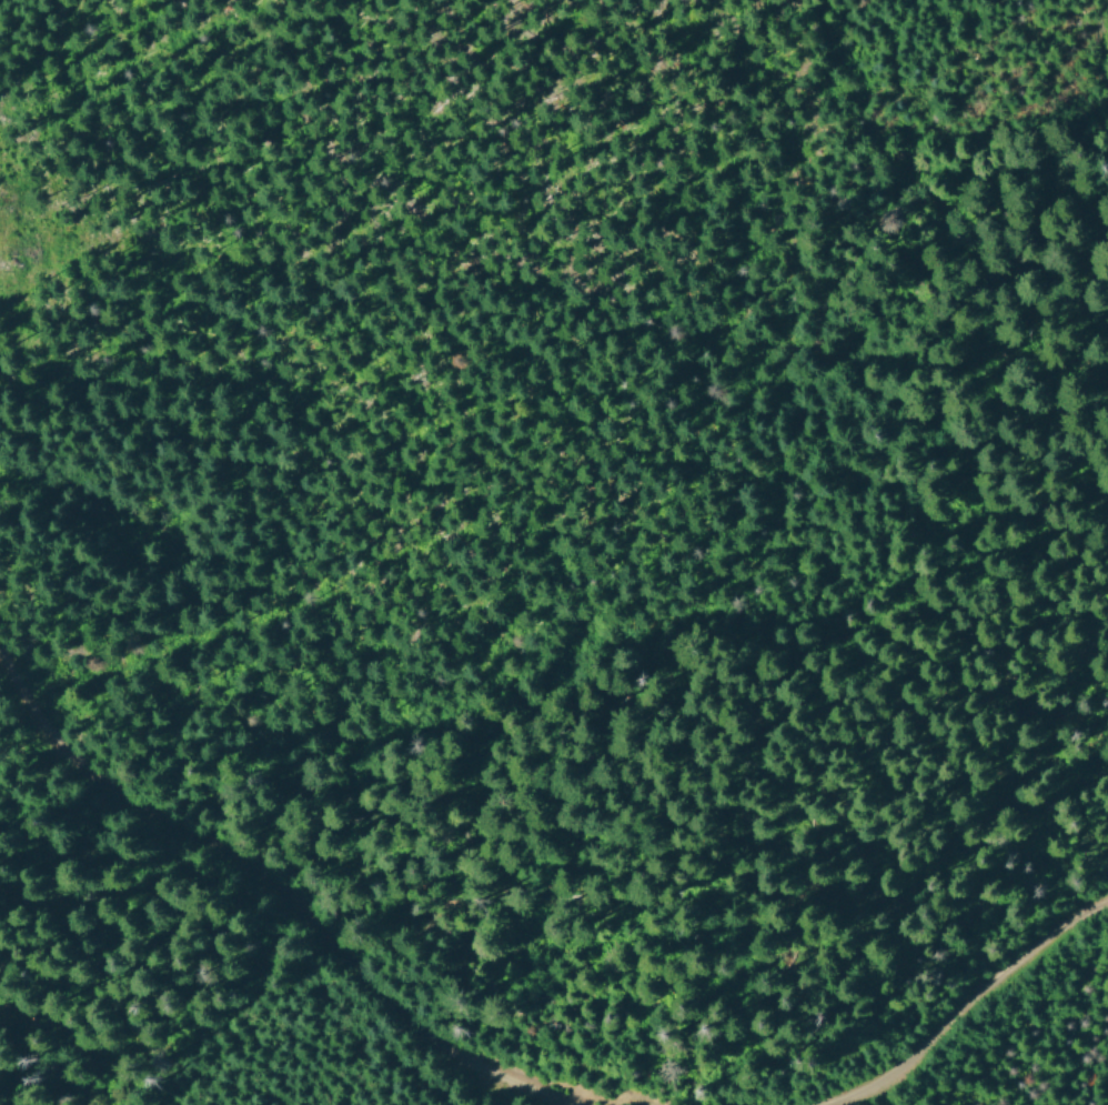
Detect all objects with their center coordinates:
road: (279, 891)
road: (964, 993)

